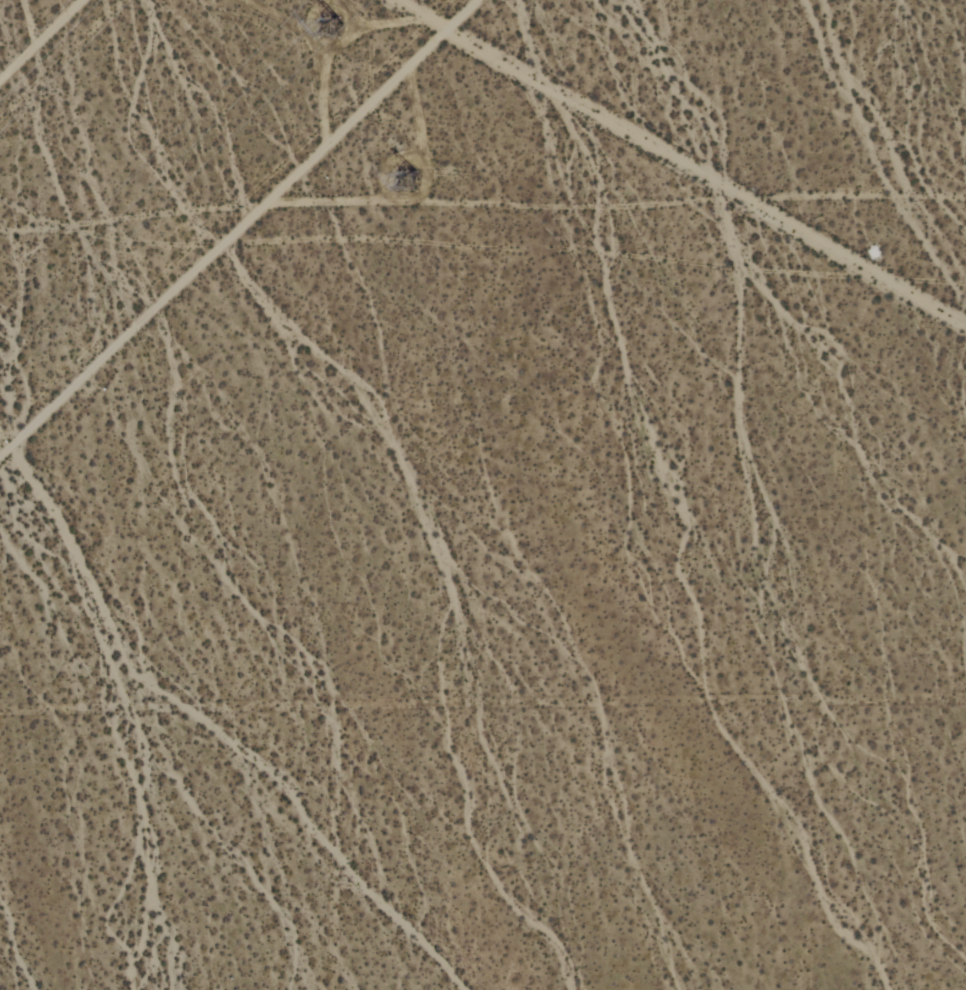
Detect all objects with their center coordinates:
power tower: (334, 29)
road: (41, 40)
road: (314, 58)
road: (681, 165)
power tower: (408, 178)
road: (241, 230)

